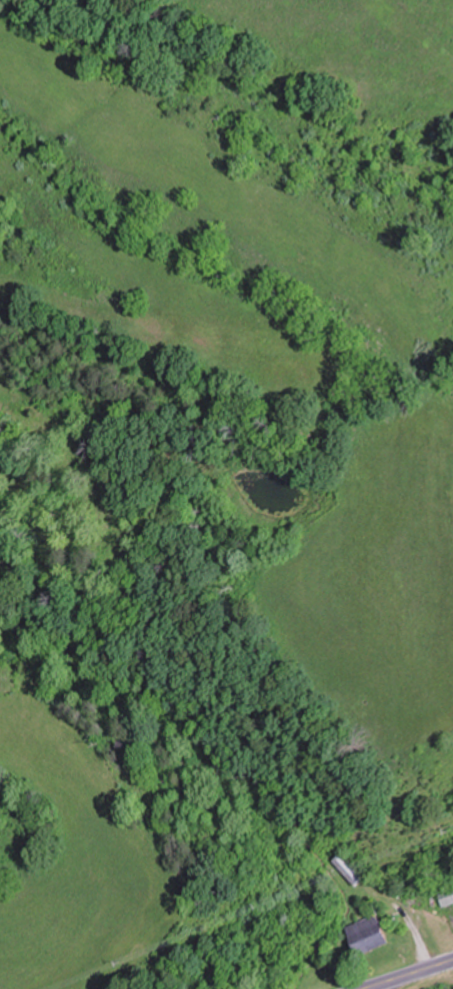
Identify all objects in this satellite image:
building: (347, 868)
building: (445, 895)
building: (365, 934)
road: (410, 974)

